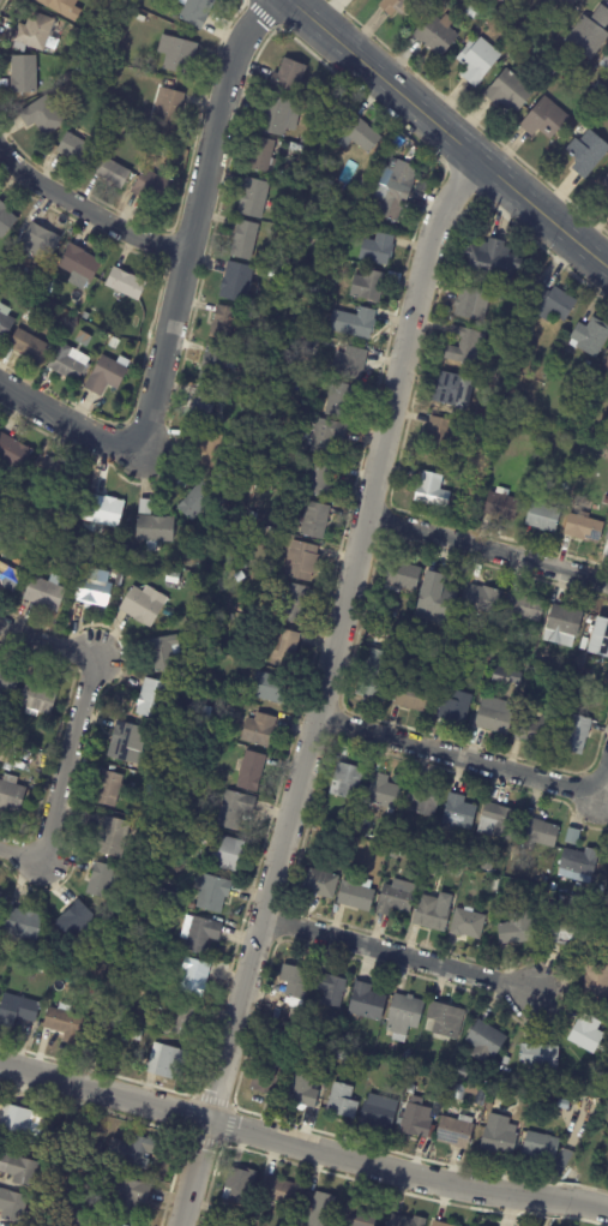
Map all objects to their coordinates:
building: (138, 0)
building: (113, 4)
building: (564, 5)
building: (402, 6)
building: (62, 7)
building: (197, 11)
building: (472, 12)
building: (108, 14)
building: (500, 16)
building: (122, 19)
building: (34, 31)
building: (590, 32)
building: (437, 34)
building: (514, 44)
building: (176, 53)
building: (477, 59)
building: (40, 61)
building: (604, 62)
building: (548, 71)
building: (23, 73)
building: (289, 74)
building: (68, 77)
road: (384, 80)
building: (601, 88)
building: (80, 91)
building: (508, 91)
building: (168, 108)
building: (601, 108)
building: (119, 110)
building: (42, 115)
building: (276, 115)
building: (544, 119)
building: (119, 127)
building: (361, 133)
building: (77, 149)
building: (159, 150)
building: (588, 152)
building: (261, 155)
building: (110, 172)
building: (606, 181)
building: (393, 186)
building: (151, 189)
building: (253, 198)
building: (607, 199)
road: (88, 210)
road: (542, 214)
building: (5, 220)
building: (245, 239)
building: (36, 240)
building: (378, 250)
building: (492, 262)
building: (79, 263)
building: (311, 275)
building: (20, 277)
building: (34, 279)
building: (393, 280)
building: (237, 282)
building: (126, 283)
building: (368, 286)
building: (313, 287)
building: (331, 288)
road: (176, 295)
building: (312, 300)
building: (468, 301)
building: (553, 303)
building: (300, 313)
building: (26, 315)
building: (85, 316)
building: (5, 322)
building: (73, 322)
building: (354, 323)
building: (228, 324)
building: (588, 337)
building: (114, 343)
building: (29, 345)
building: (311, 345)
building: (468, 346)
building: (350, 363)
building: (588, 363)
building: (216, 364)
building: (66, 365)
building: (606, 365)
building: (106, 376)
building: (511, 379)
building: (452, 389)
building: (339, 400)
building: (520, 400)
building: (203, 406)
building: (506, 412)
building: (482, 413)
building: (438, 433)
building: (326, 436)
building: (211, 450)
building: (13, 453)
building: (56, 474)
building: (318, 479)
building: (567, 485)
building: (480, 486)
building: (223, 489)
building: (433, 489)
building: (478, 494)
building: (606, 500)
building: (199, 501)
building: (501, 506)
building: (103, 512)
building: (254, 515)
building: (542, 516)
building: (315, 521)
building: (582, 527)
building: (155, 531)
building: (607, 537)
building: (70, 538)
building: (96, 544)
building: (213, 544)
road: (487, 548)
building: (124, 550)
building: (282, 555)
building: (83, 556)
building: (302, 562)
building: (402, 575)
building: (8, 579)
building: (173, 579)
building: (94, 590)
building: (46, 593)
building: (434, 596)
building: (482, 596)
building: (293, 603)
building: (524, 605)
building: (145, 608)
building: (589, 618)
building: (564, 621)
building: (187, 623)
building: (600, 636)
building: (401, 638)
building: (584, 644)
building: (476, 646)
building: (283, 650)
building: (163, 653)
building: (481, 659)
building: (374, 675)
building: (501, 675)
building: (7, 682)
building: (269, 688)
road: (323, 688)
building: (573, 692)
building: (411, 695)
building: (37, 700)
building: (155, 700)
building: (456, 704)
building: (206, 714)
building: (494, 714)
road: (73, 729)
building: (538, 729)
building: (258, 730)
building: (576, 732)
building: (157, 741)
building: (127, 744)
building: (4, 758)
road: (469, 760)
building: (251, 772)
building: (345, 779)
building: (150, 783)
building: (108, 789)
building: (383, 790)
building: (11, 795)
building: (423, 797)
building: (234, 811)
building: (458, 811)
building: (496, 820)
building: (175, 832)
building: (538, 832)
building: (573, 837)
building: (113, 839)
building: (173, 841)
building: (227, 855)
building: (580, 861)
building: (487, 863)
building: (433, 868)
building: (102, 881)
building: (321, 884)
building: (495, 884)
building: (356, 893)
building: (212, 895)
building: (396, 896)
building: (0, 897)
building: (170, 899)
building: (571, 899)
building: (431, 913)
building: (74, 921)
building: (466, 922)
building: (22, 927)
building: (517, 928)
building: (200, 934)
building: (568, 935)
road: (397, 953)
building: (36, 969)
building: (192, 979)
building: (295, 981)
building: (597, 983)
building: (92, 988)
building: (332, 988)
building: (367, 1001)
building: (294, 1003)
building: (18, 1012)
building: (294, 1013)
building: (404, 1016)
building: (446, 1019)
building: (186, 1021)
building: (64, 1024)
building: (586, 1033)
building: (126, 1036)
building: (137, 1036)
building: (288, 1037)
building: (484, 1041)
building: (311, 1042)
building: (321, 1046)
building: (538, 1054)
building: (342, 1055)
building: (407, 1055)
building: (361, 1060)
building: (167, 1063)
building: (402, 1069)
building: (462, 1071)
building: (266, 1080)
building: (438, 1082)
building: (502, 1083)
building: (411, 1089)
building: (472, 1089)
building: (302, 1090)
building: (459, 1092)
building: (342, 1101)
building: (564, 1104)
building: (434, 1106)
building: (488, 1106)
building: (378, 1112)
building: (414, 1118)
building: (20, 1120)
building: (452, 1129)
building: (498, 1132)
road: (269, 1137)
building: (541, 1144)
building: (92, 1147)
building: (137, 1150)
building: (40, 1155)
building: (18, 1170)
building: (239, 1185)
building: (276, 1190)
building: (126, 1195)
road: (554, 1198)
road: (588, 1203)
building: (12, 1206)
building: (319, 1208)
building: (356, 1215)
building: (82, 1219)
building: (218, 1221)
building: (407, 1221)
building: (114, 1224)
building: (440, 1224)
building: (231, 1225)

